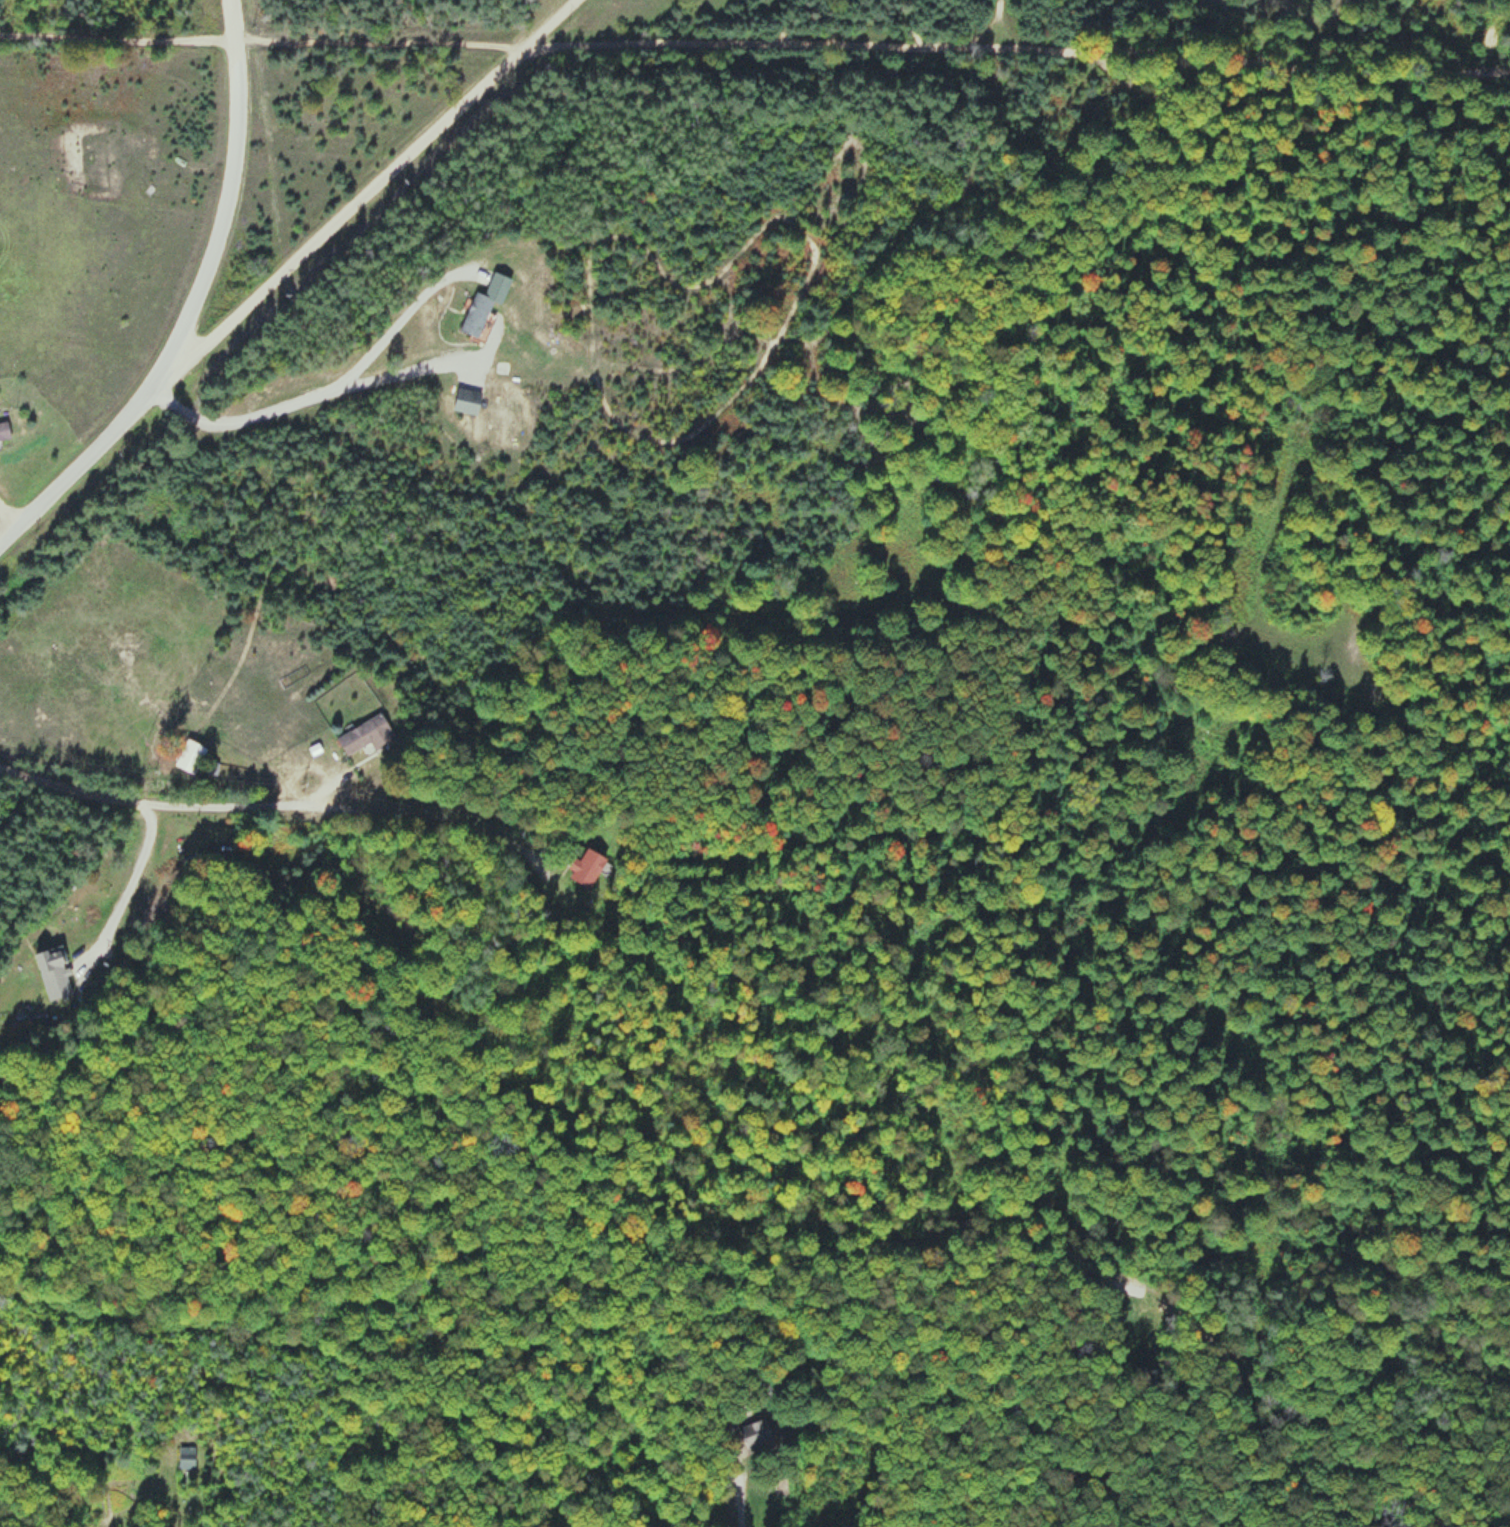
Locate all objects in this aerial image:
road: (232, 20)
road: (549, 23)
road: (986, 26)
road: (755, 46)
road: (237, 60)
building: (103, 163)
road: (334, 223)
building: (485, 303)
road: (178, 337)
building: (467, 401)
building: (4, 431)
building: (160, 596)
road: (1293, 734)
building: (365, 735)
building: (190, 756)
building: (587, 868)
building: (53, 973)
building: (756, 1436)
building: (186, 1458)
road: (1334, 1458)

